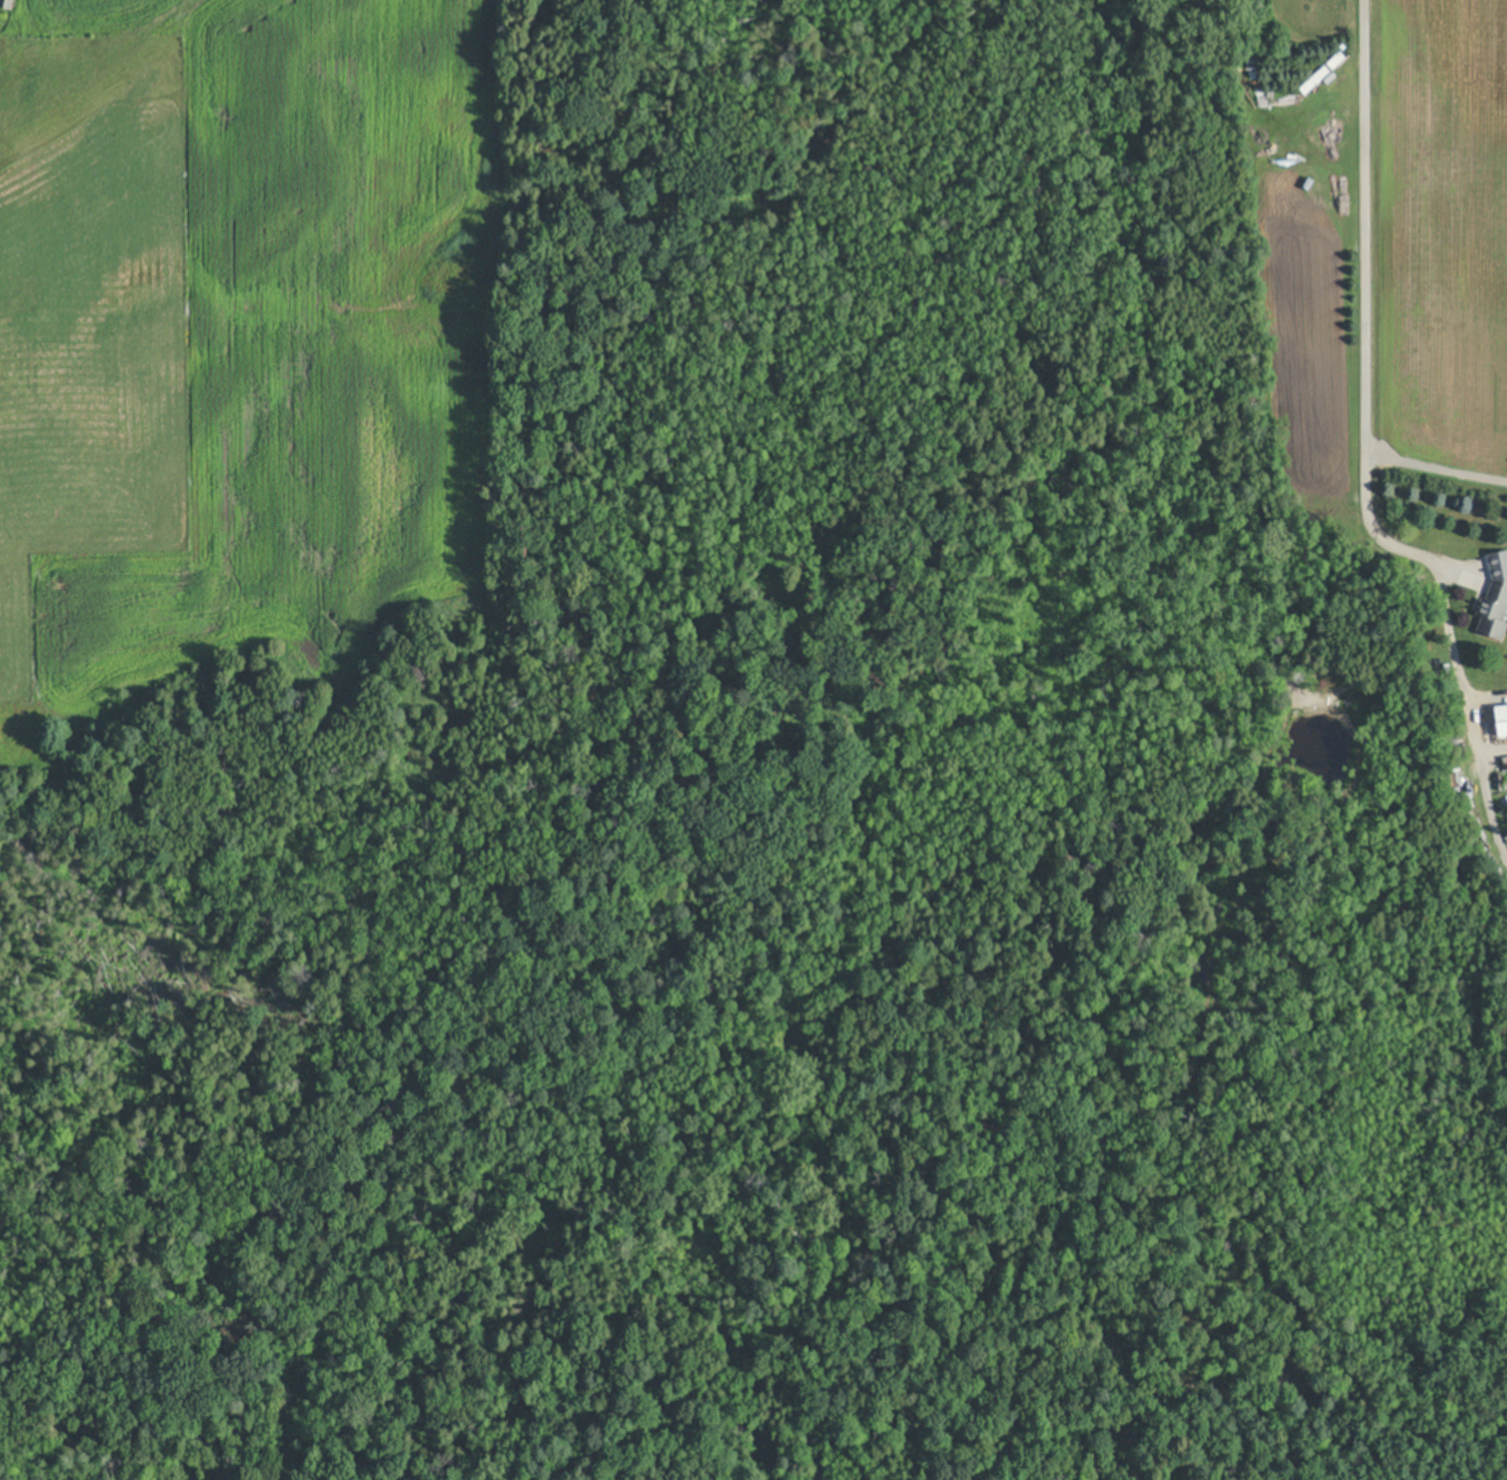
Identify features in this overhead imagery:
building: (7, 3)
building: (1337, 58)
building: (1314, 78)
road: (1365, 390)
building: (1495, 597)
building: (1502, 718)
building: (1450, 737)
building: (1455, 773)

